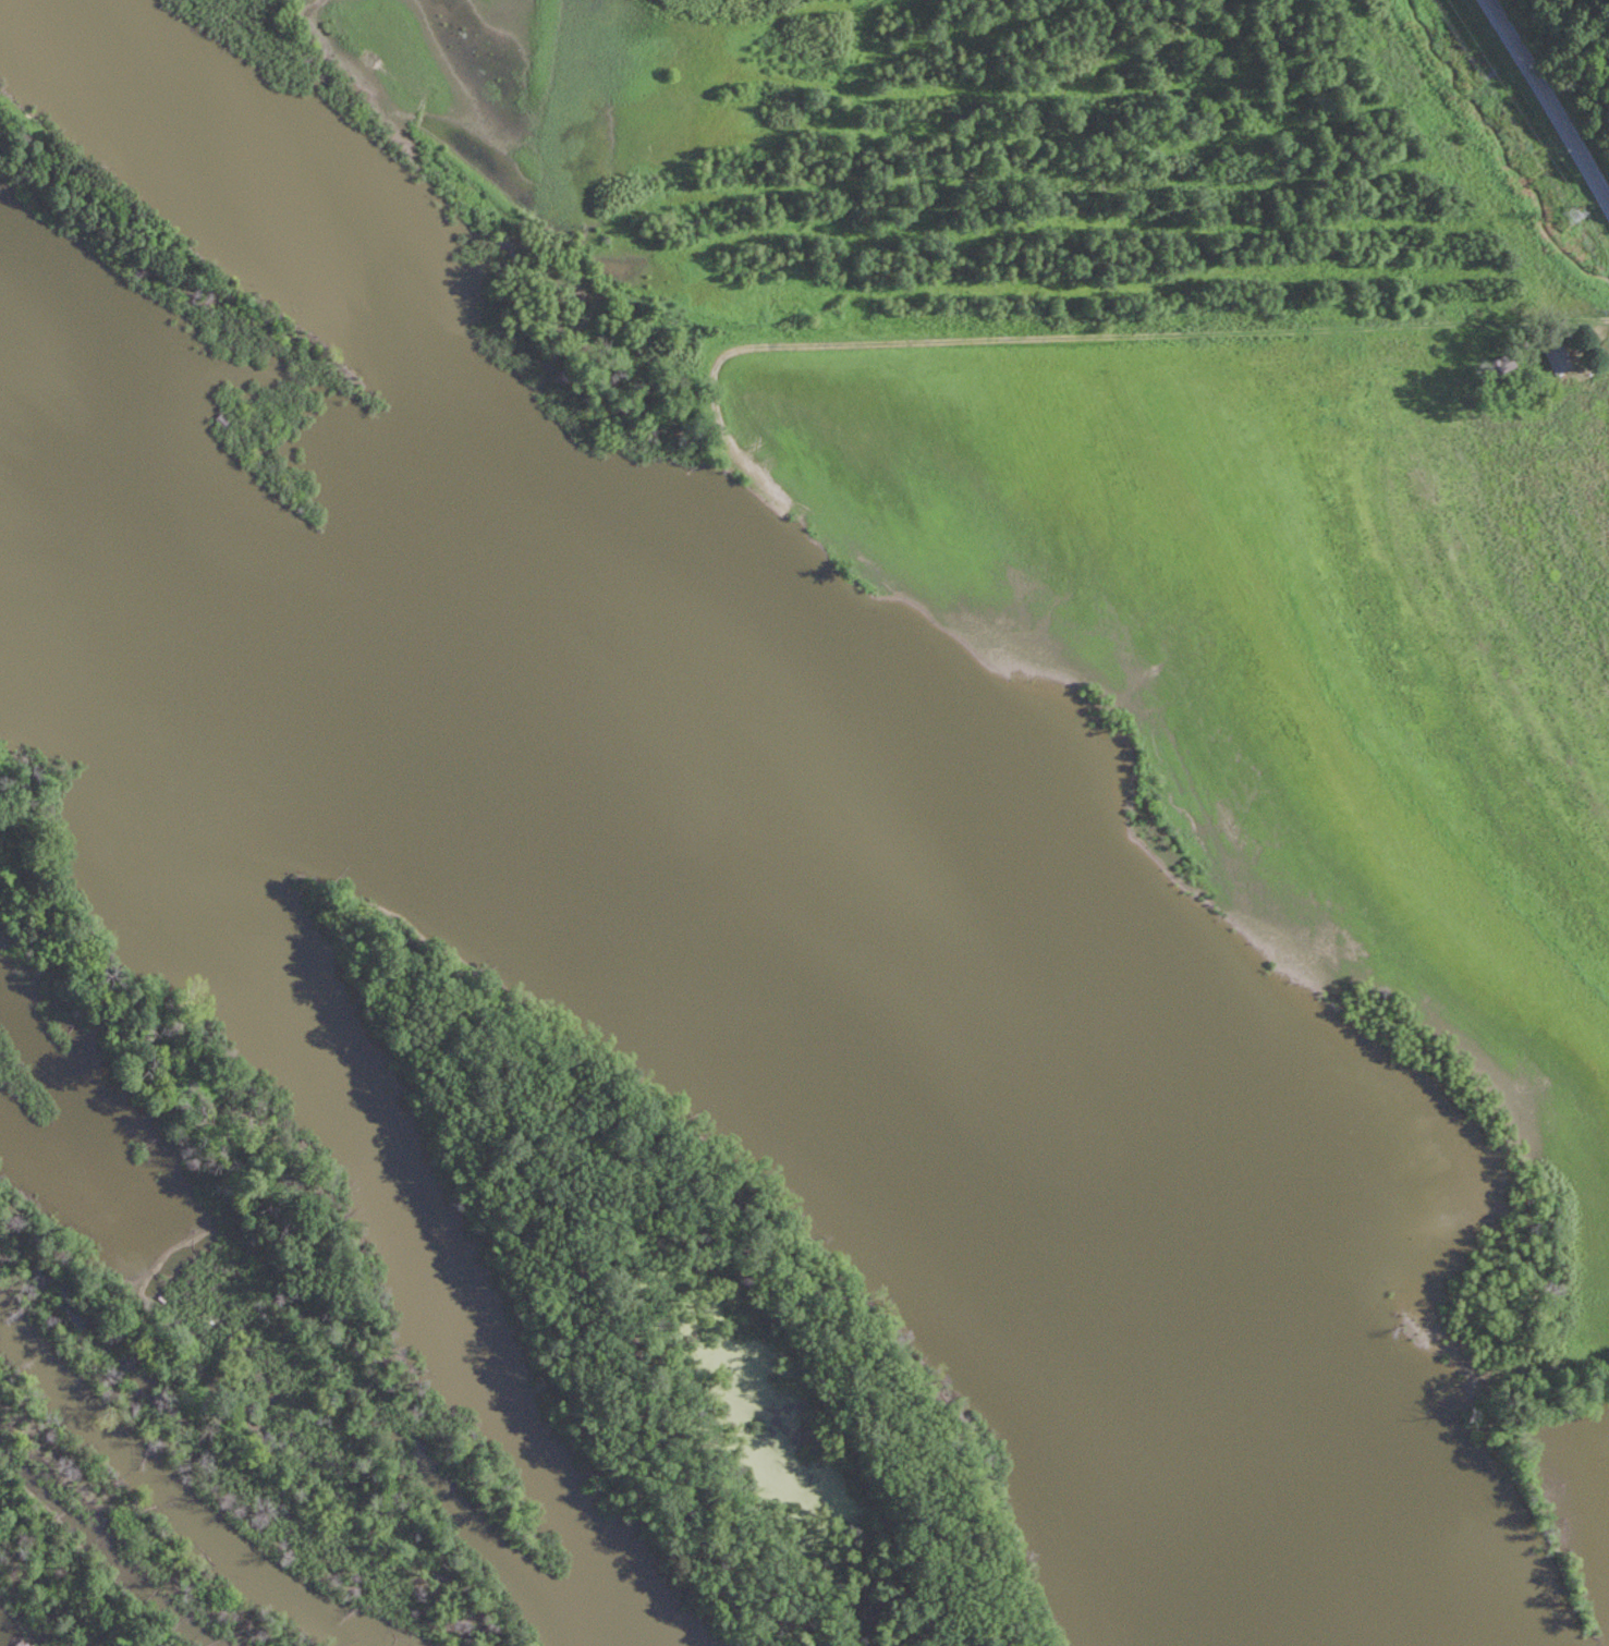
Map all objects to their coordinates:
road: (1549, 101)
building: (1559, 358)
building: (1506, 363)

